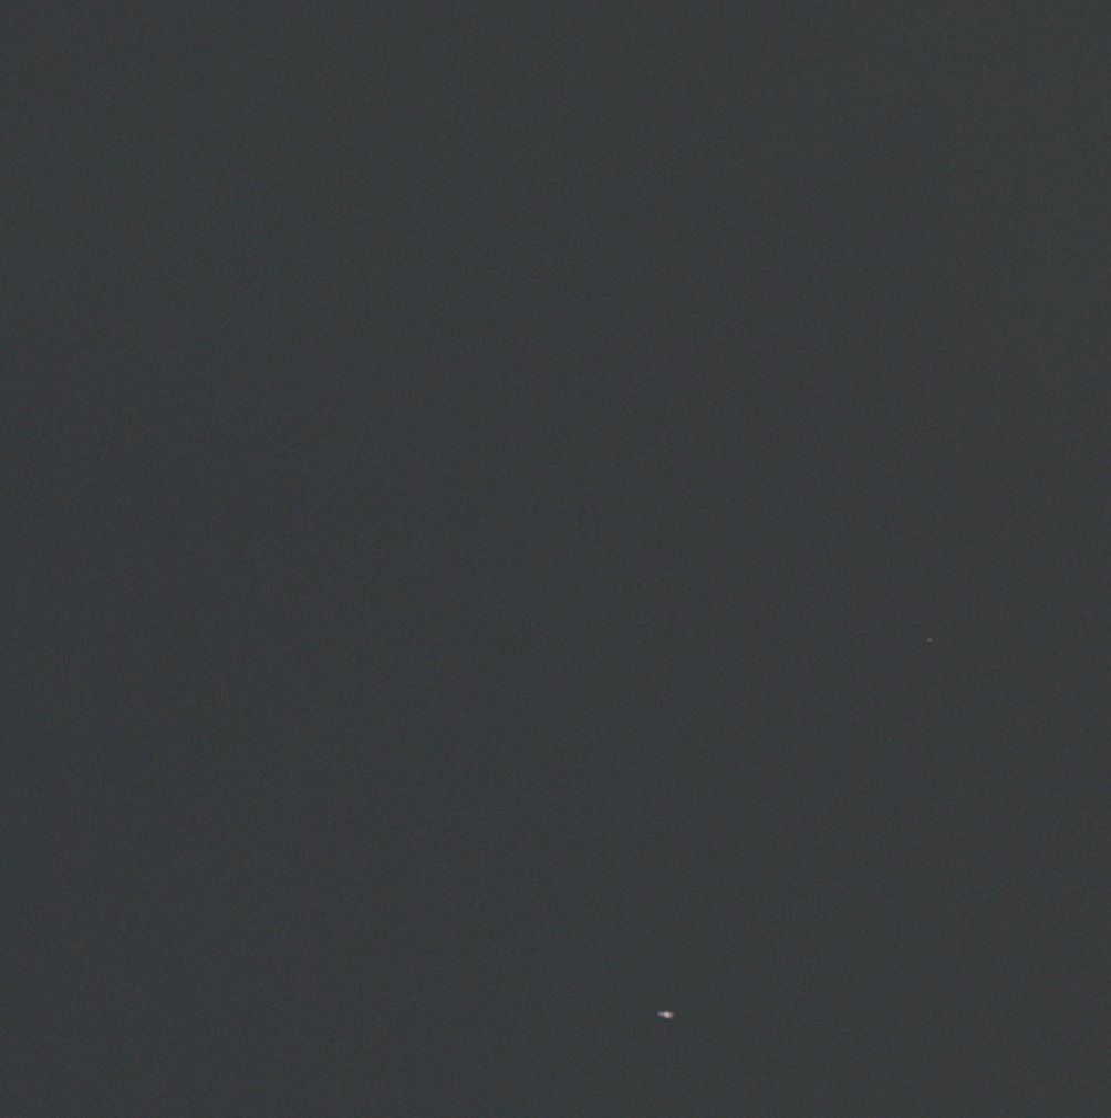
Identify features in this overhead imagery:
river: (925, 570)

